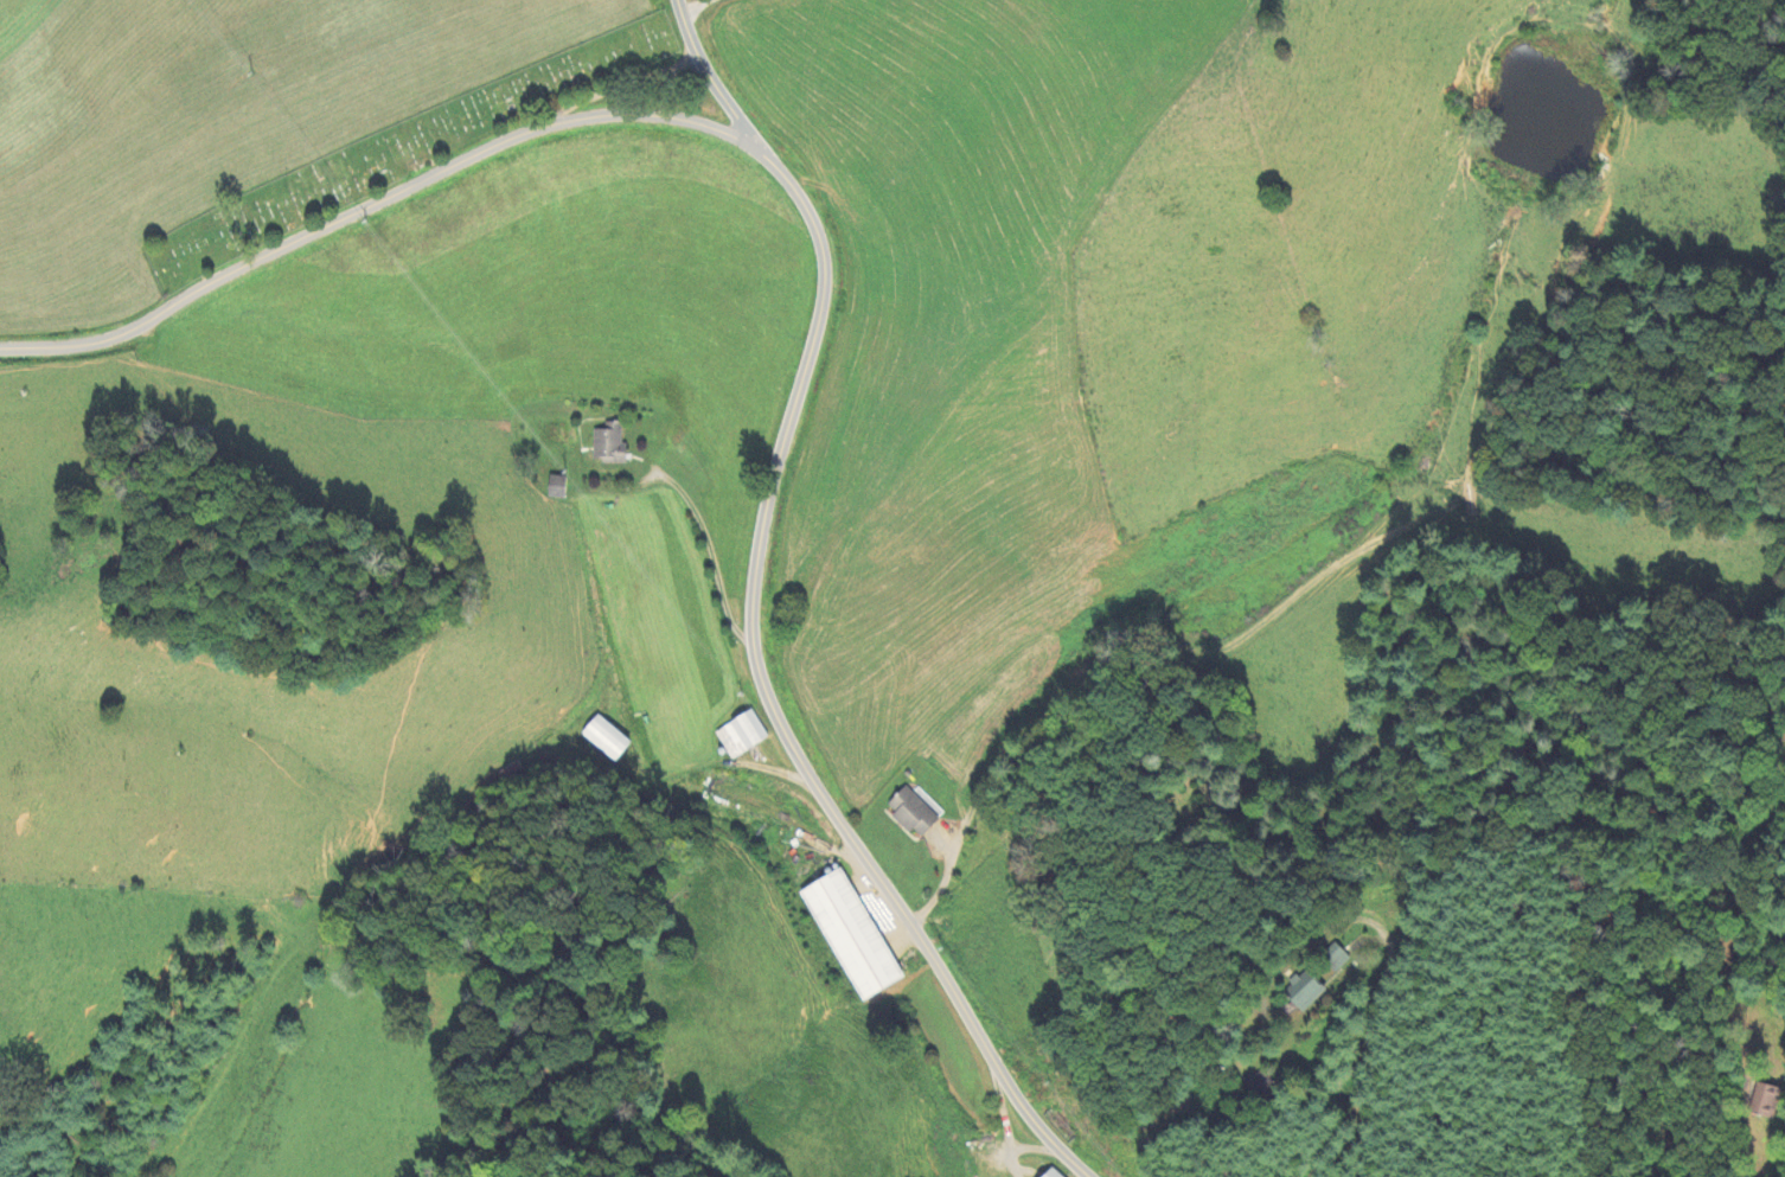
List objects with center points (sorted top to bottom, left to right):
road: (697, 5)
road: (714, 81)
park: (407, 151)
road: (380, 203)
building: (609, 444)
building: (556, 487)
road: (768, 698)
building: (742, 735)
building: (606, 738)
building: (914, 811)
building: (851, 934)
building: (1335, 957)
building: (1306, 987)
road: (1363, 1056)
building: (1259, 1082)
building: (1766, 1101)
road: (1002, 1115)
building: (1053, 1173)

